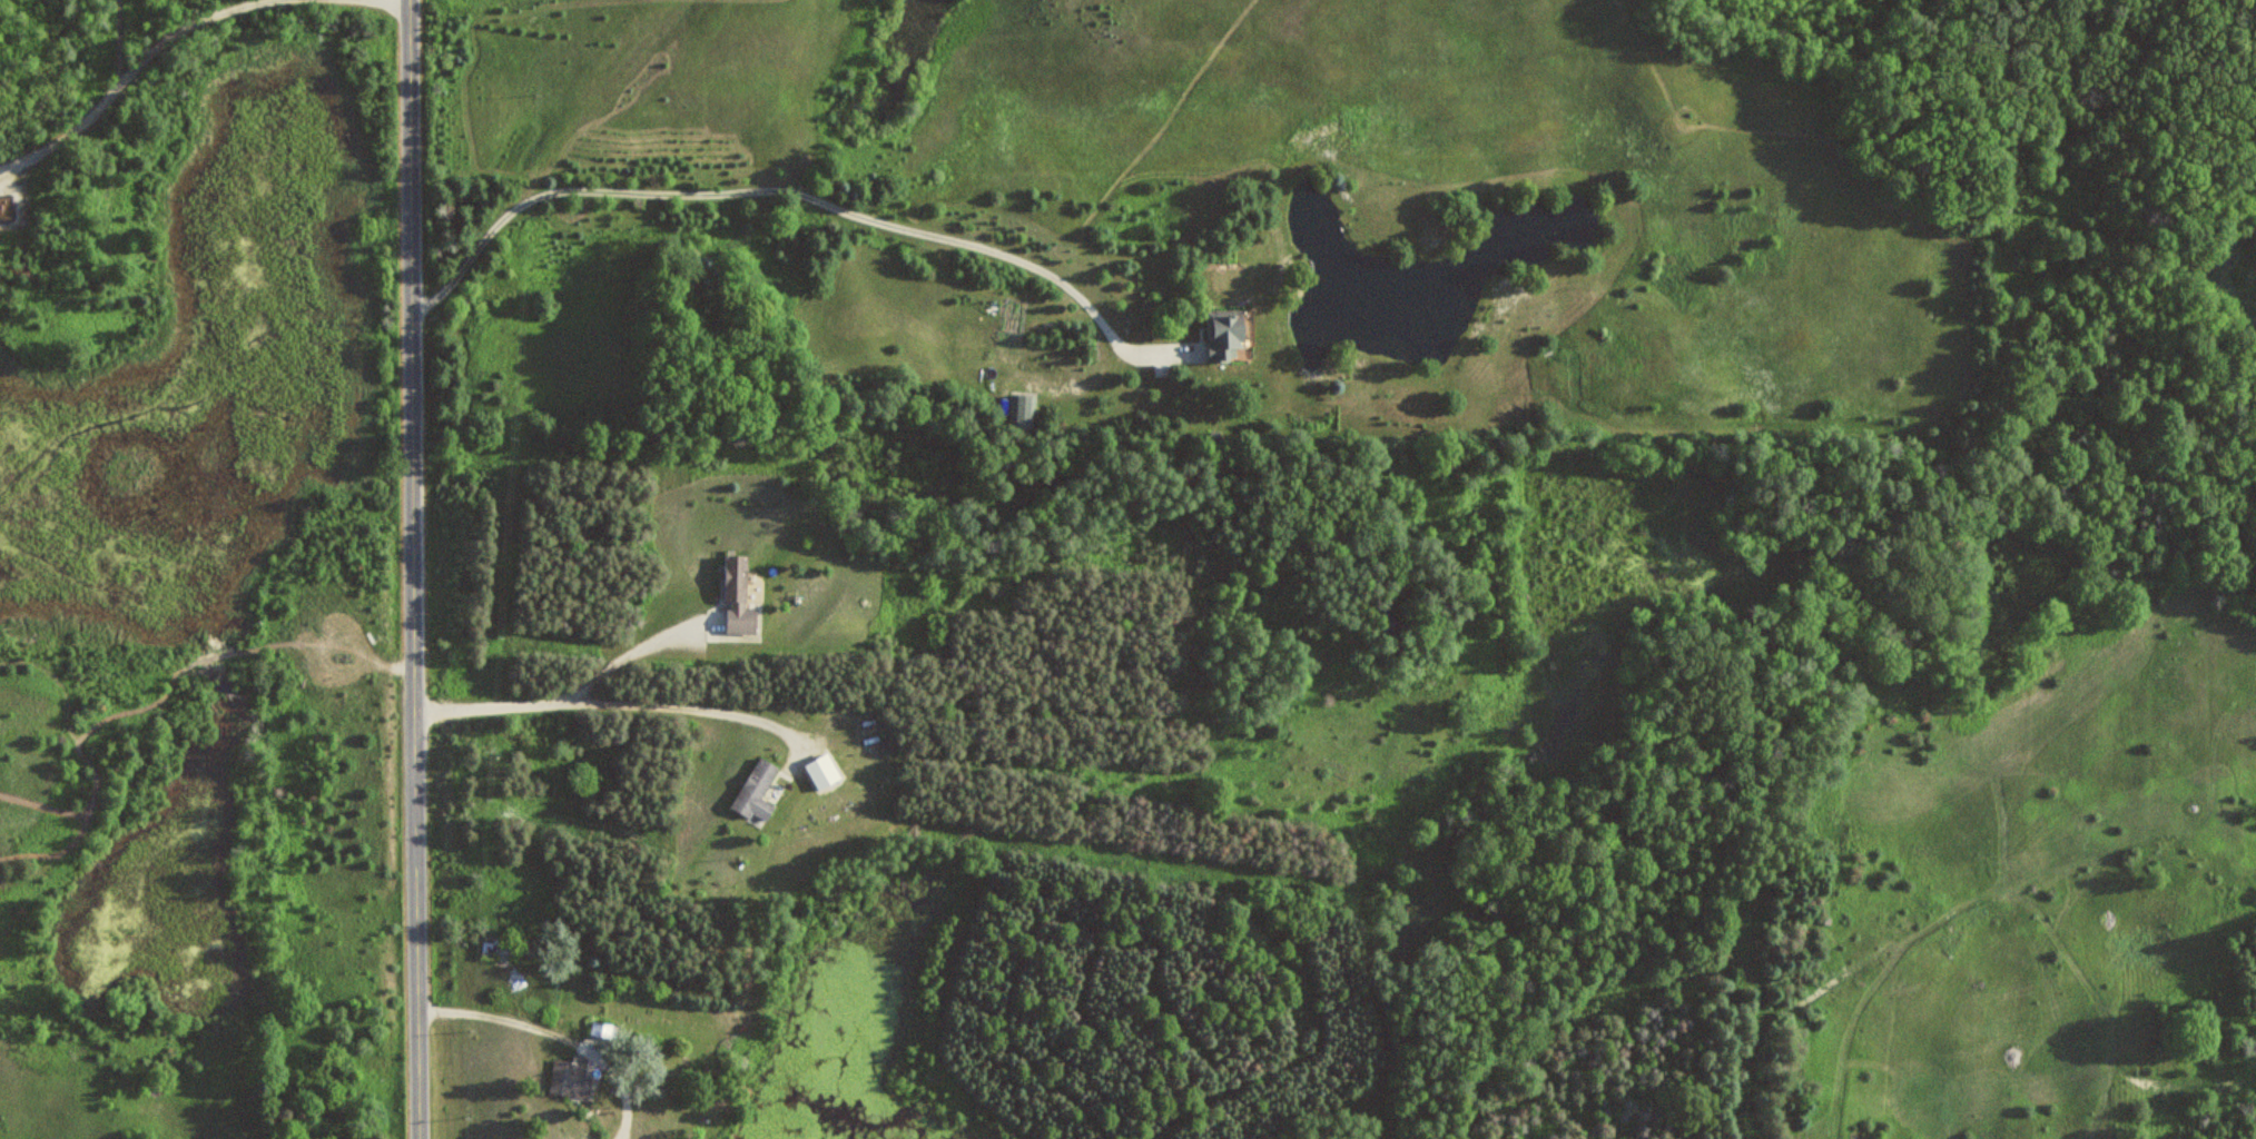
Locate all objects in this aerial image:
road: (137, 60)
building: (1228, 334)
building: (1023, 412)
road: (413, 569)
building: (739, 596)
building: (759, 790)
building: (502, 951)
building: (604, 1030)
building: (571, 1078)
building: (363, 1135)

